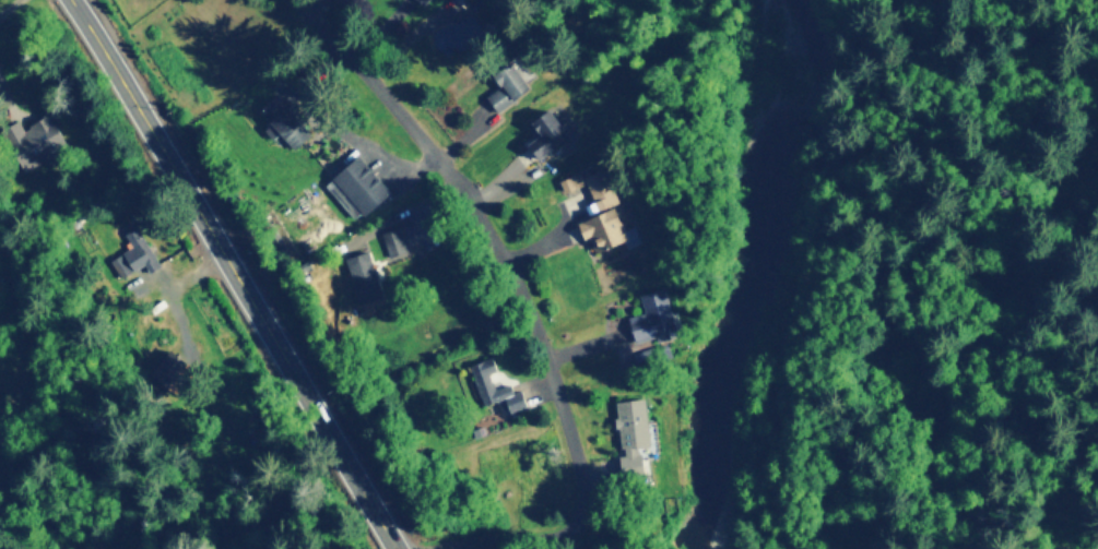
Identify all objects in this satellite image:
building: (418, 0)
building: (506, 84)
building: (287, 127)
building: (548, 135)
building: (36, 139)
building: (569, 179)
building: (356, 187)
building: (600, 218)
building: (400, 238)
building: (133, 254)
road: (233, 273)
river: (763, 275)
building: (364, 281)
road: (522, 310)
building: (651, 314)
building: (646, 355)
building: (166, 363)
building: (484, 384)
building: (633, 433)
road: (589, 537)

